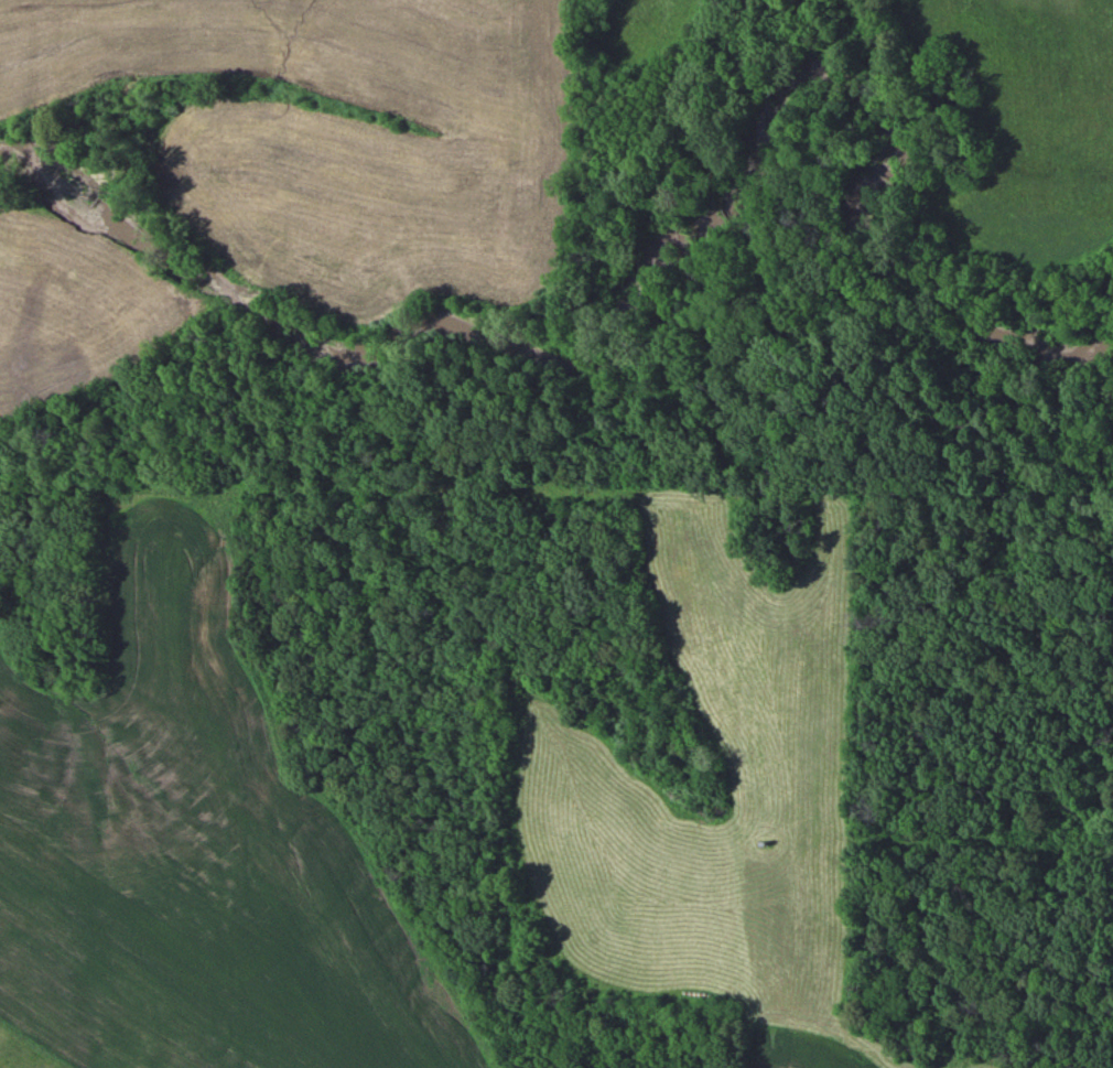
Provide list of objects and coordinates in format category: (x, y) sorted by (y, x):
river: (456, 370)

